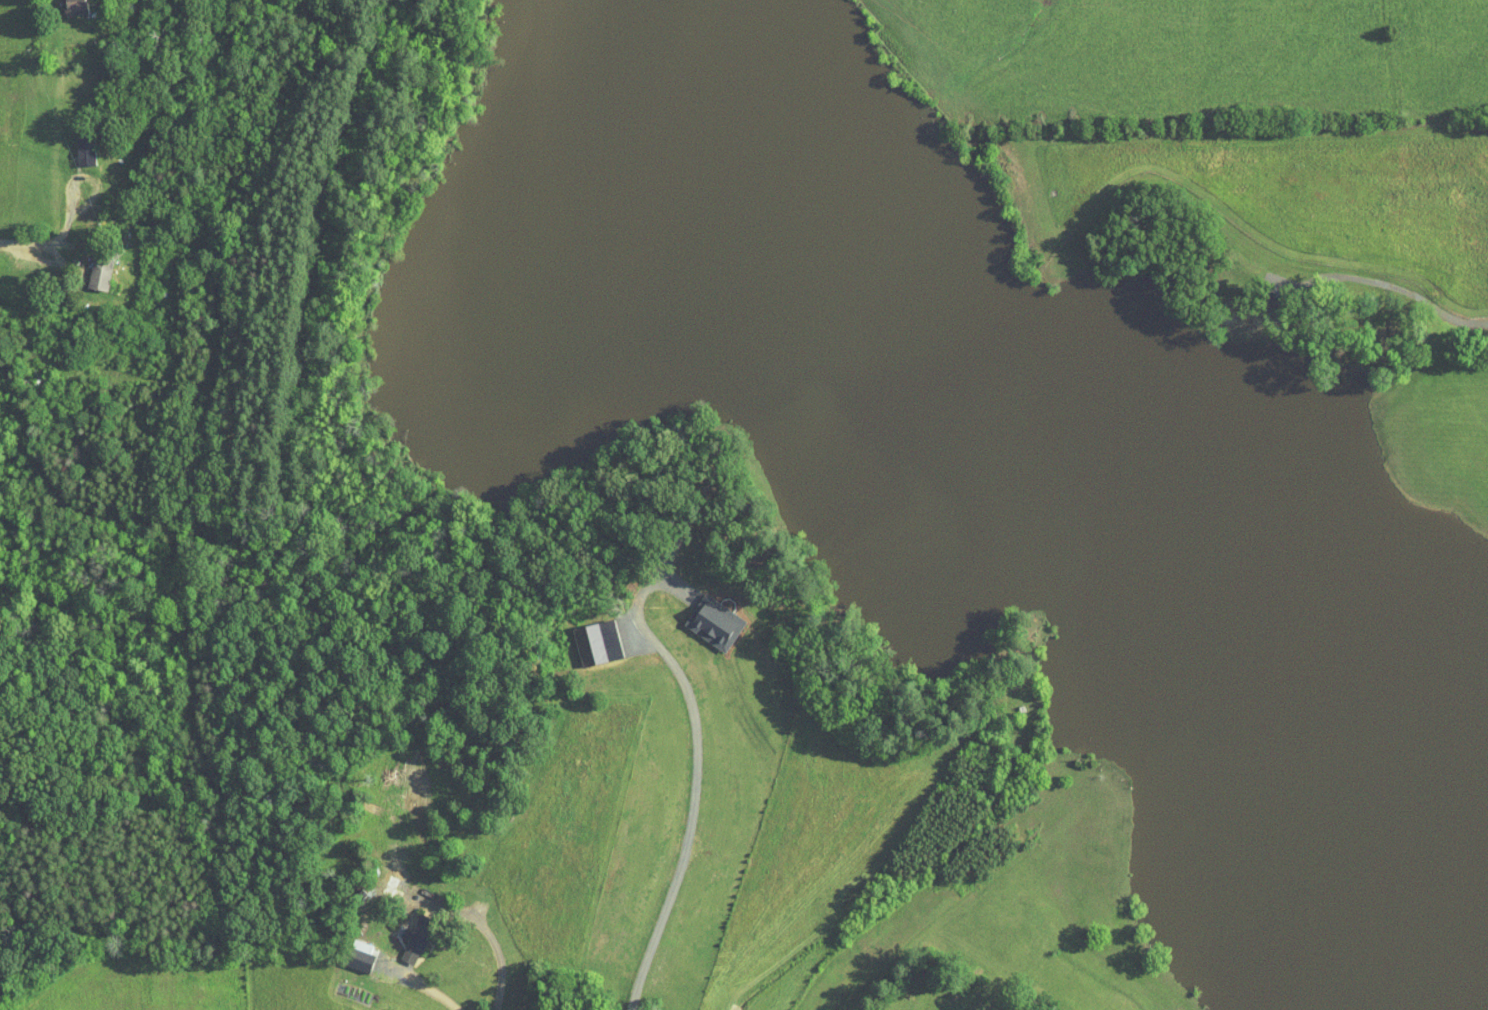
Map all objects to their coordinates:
building: (63, 3)
building: (73, 144)
road: (49, 225)
road: (5, 237)
building: (88, 266)
building: (703, 616)
building: (585, 636)
road: (696, 782)
building: (381, 880)
building: (403, 936)
road: (492, 939)
road: (419, 980)

